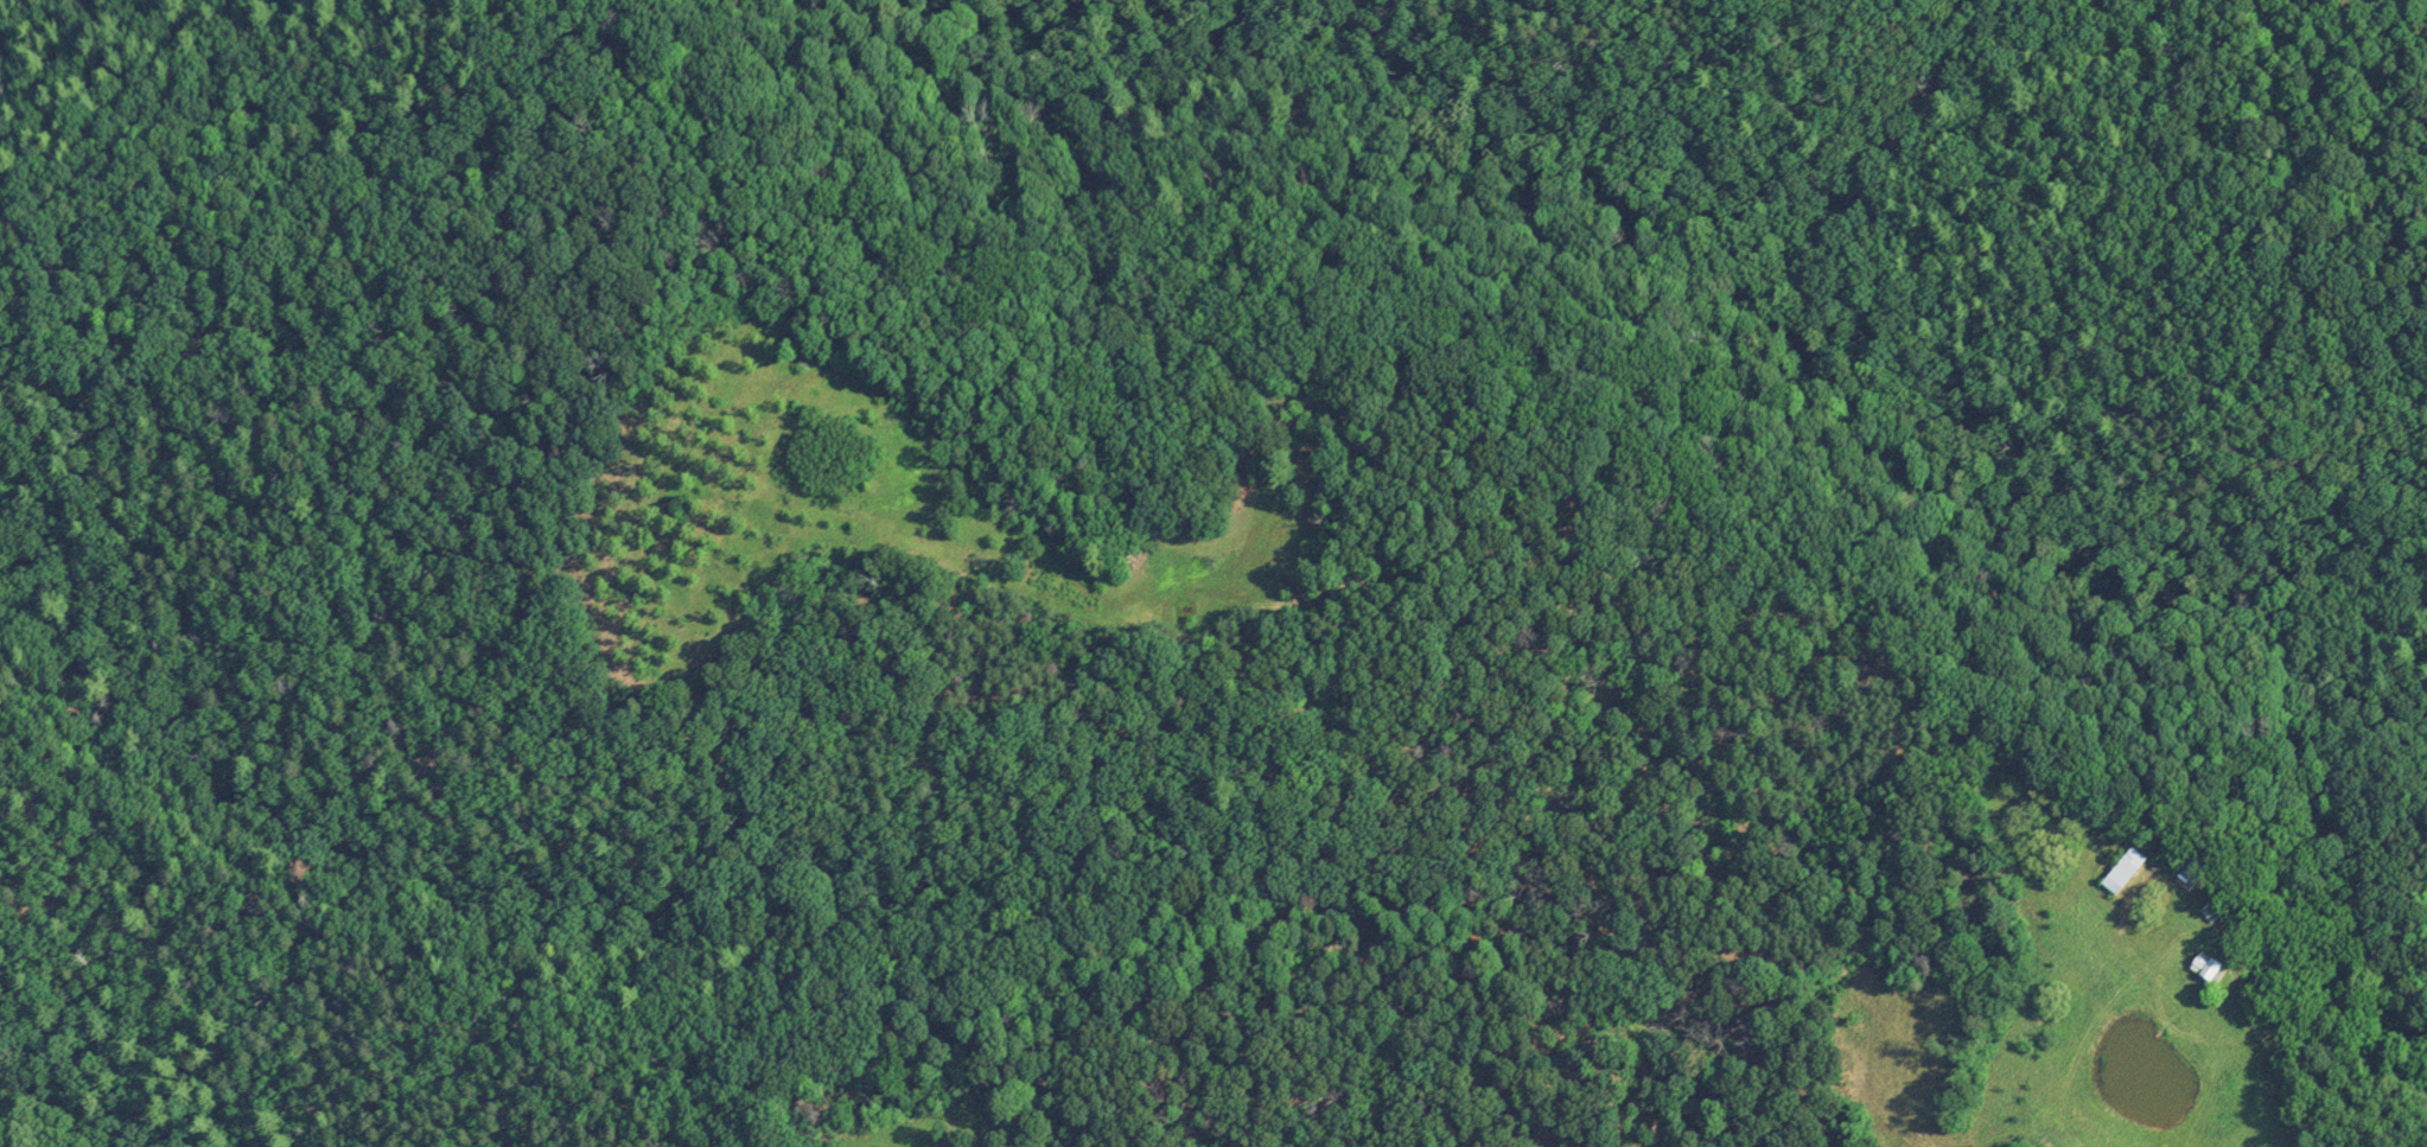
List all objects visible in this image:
building: (2192, 873)
building: (2122, 874)
building: (2209, 967)
road: (2384, 1081)

